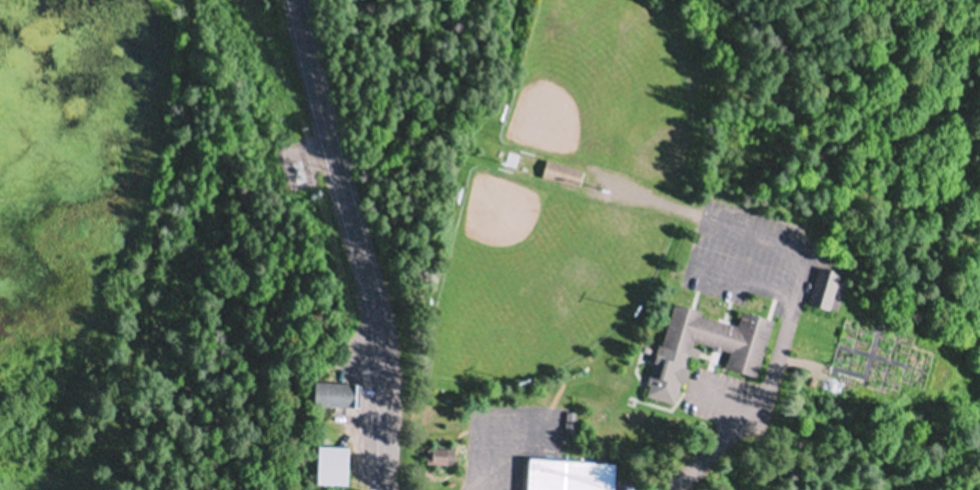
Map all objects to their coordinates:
road: (298, 20)
park: (602, 89)
road: (758, 236)
park: (670, 237)
parking lot: (751, 254)
road: (360, 262)
park: (537, 277)
road: (746, 279)
park: (209, 286)
building: (679, 354)
road: (768, 386)
road: (726, 398)
parking lot: (730, 399)
parking lot: (510, 444)
building: (573, 474)

